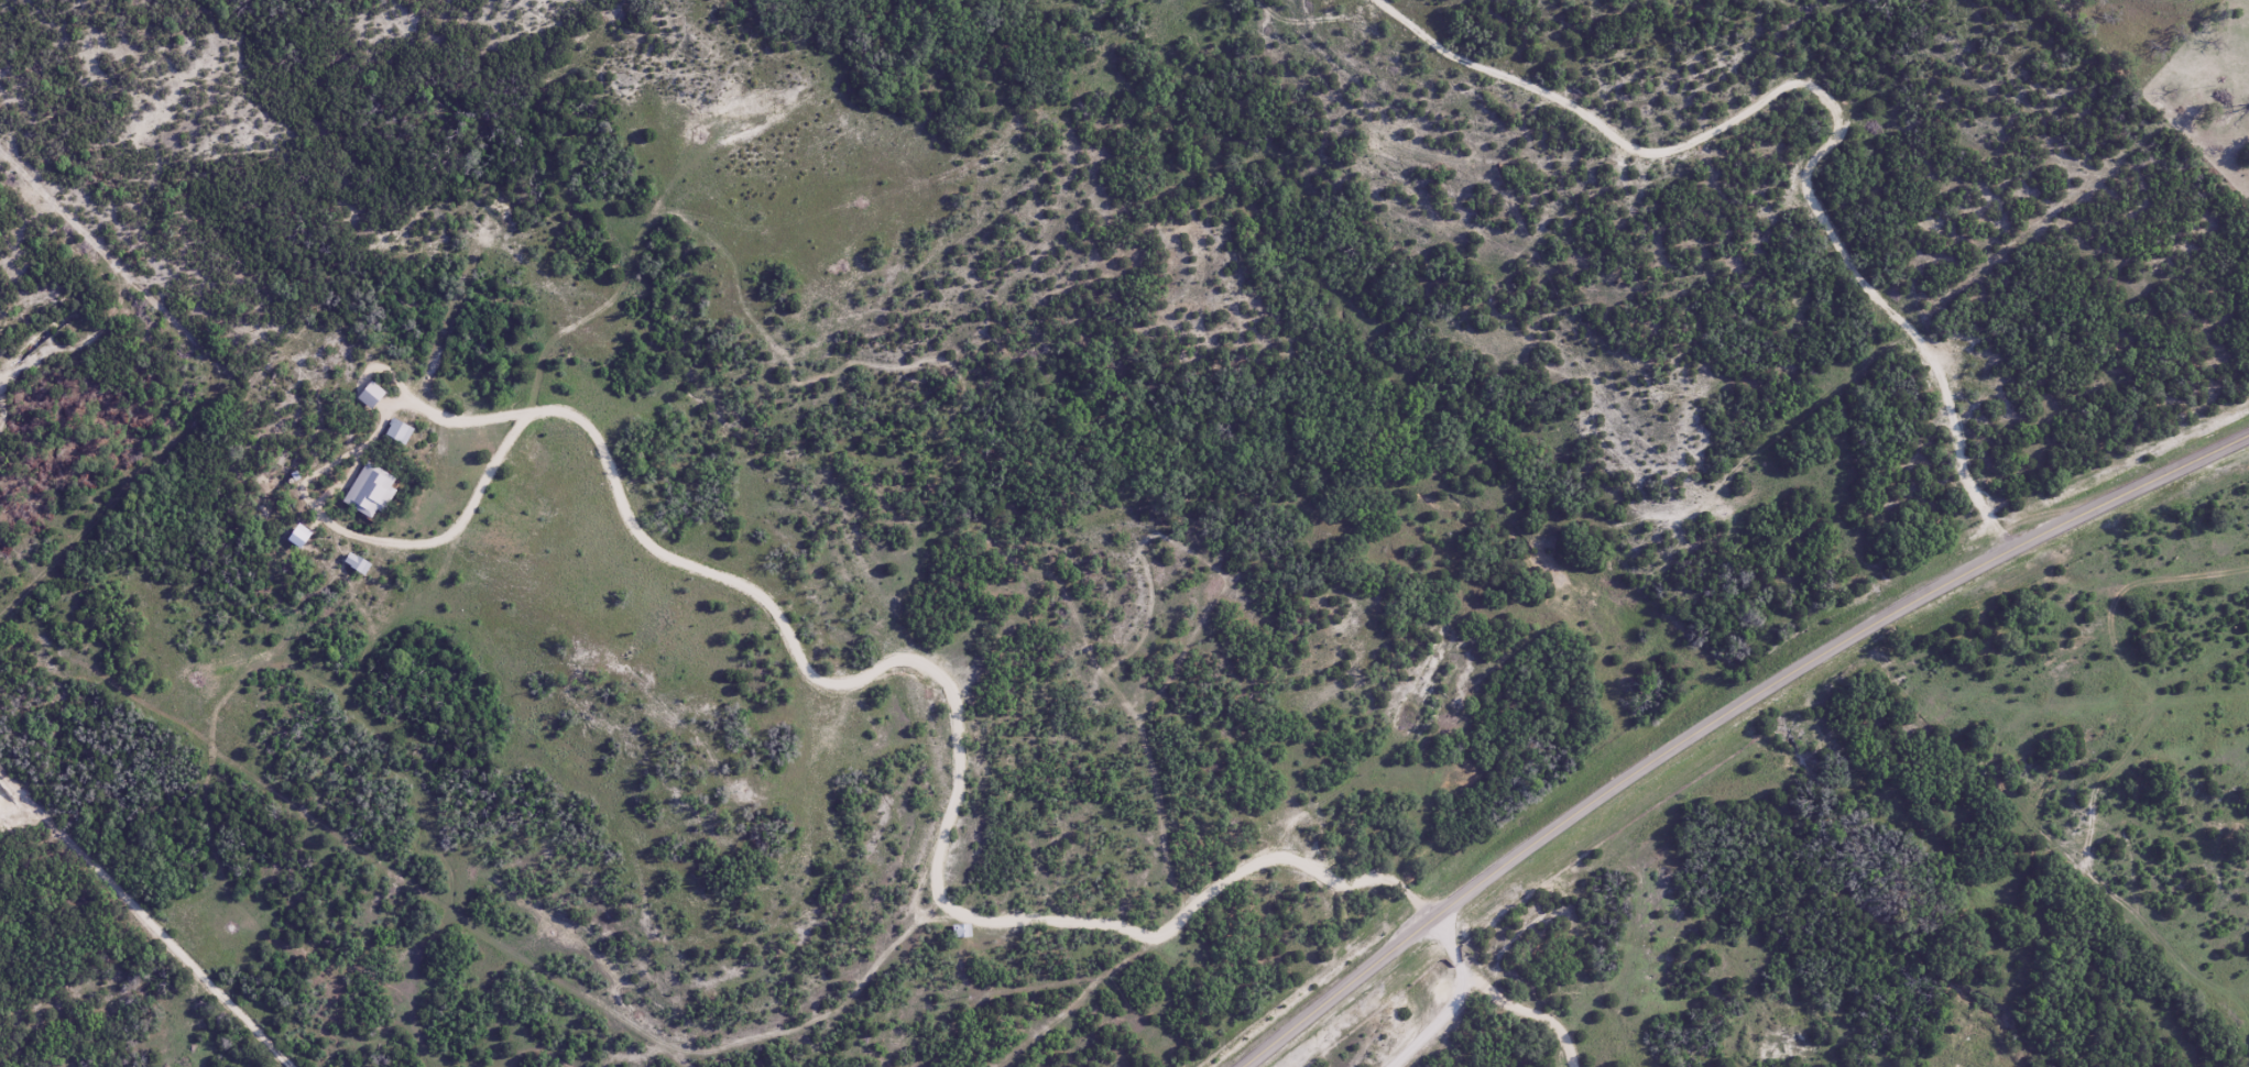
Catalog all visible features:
road: (2171, 30)
building: (368, 395)
building: (395, 432)
building: (367, 492)
building: (353, 563)
road: (1726, 712)
building: (962, 932)
road: (1584, 958)

